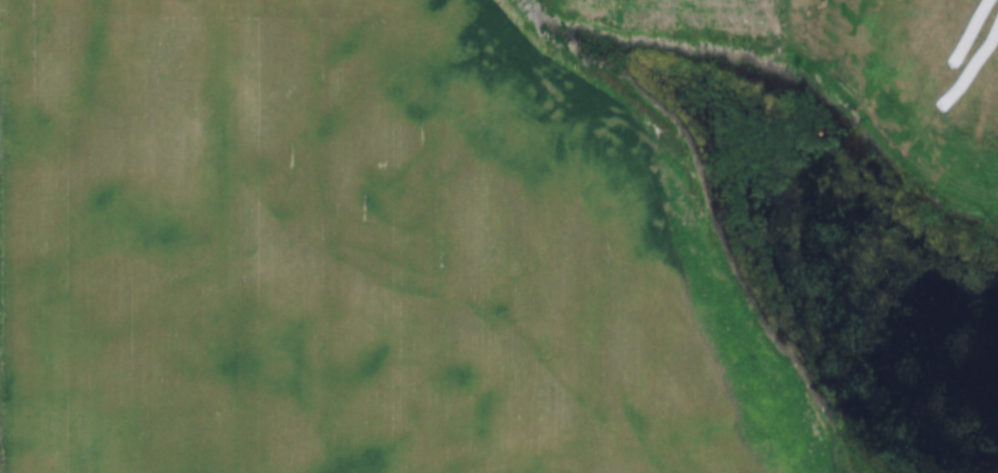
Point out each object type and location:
road: (996, 3)

